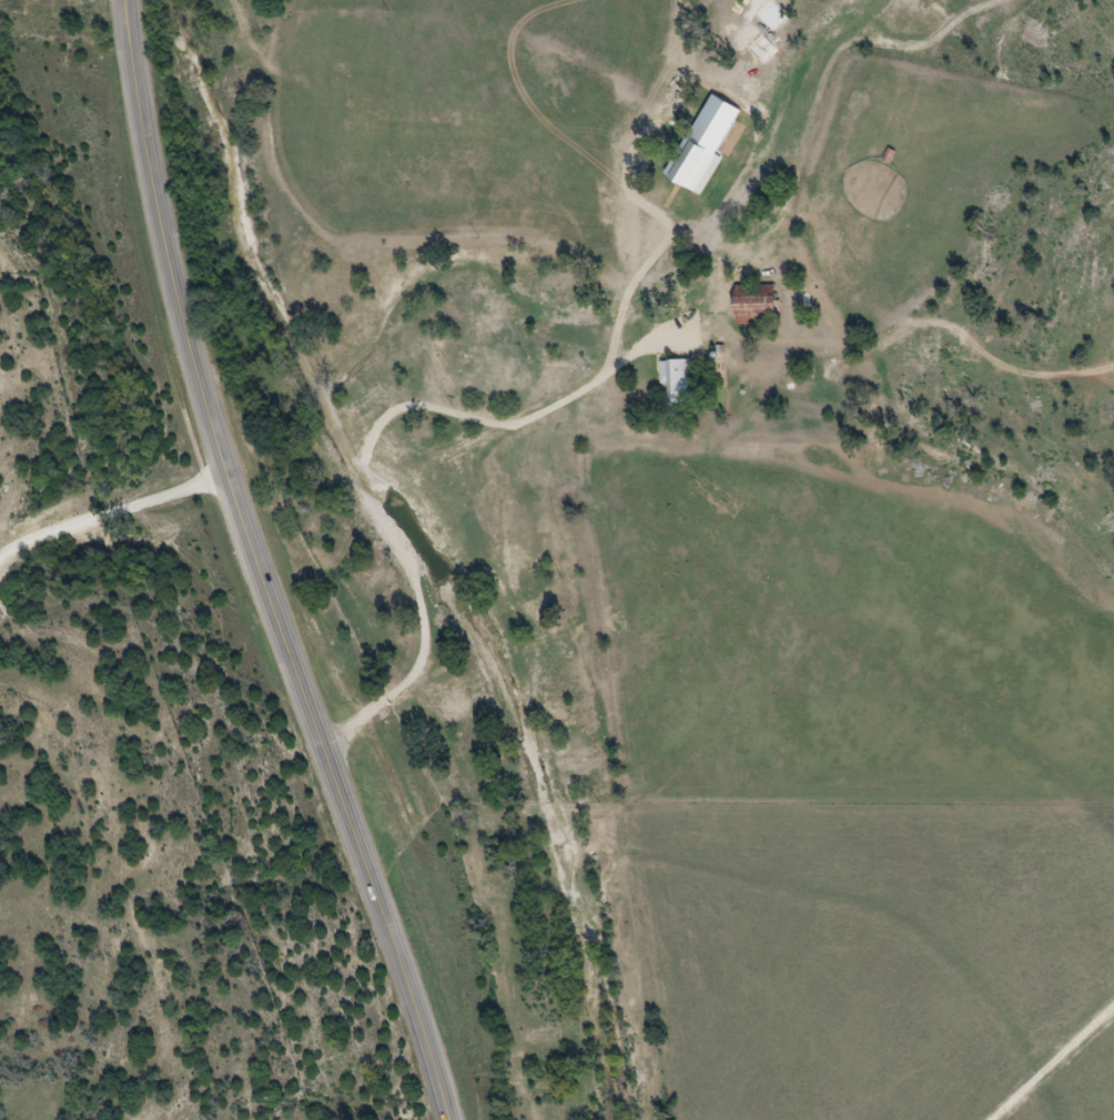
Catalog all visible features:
building: (667, 166)
building: (761, 305)
building: (683, 385)
road: (422, 499)
road: (256, 569)

